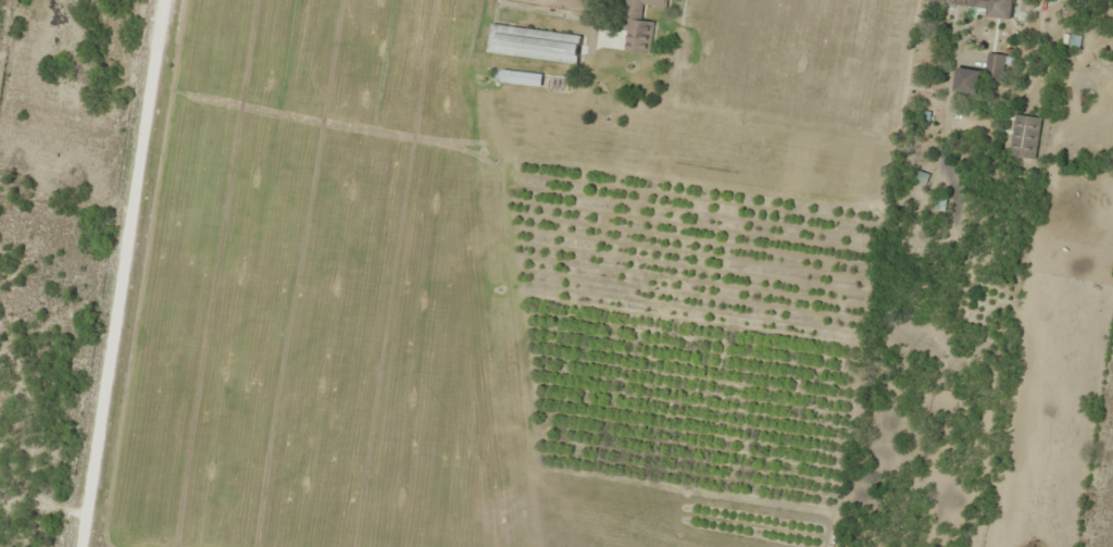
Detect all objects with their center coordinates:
building: (986, 5)
building: (636, 25)
building: (532, 42)
building: (993, 66)
building: (515, 76)
building: (966, 79)
building: (1024, 135)
road: (139, 273)

